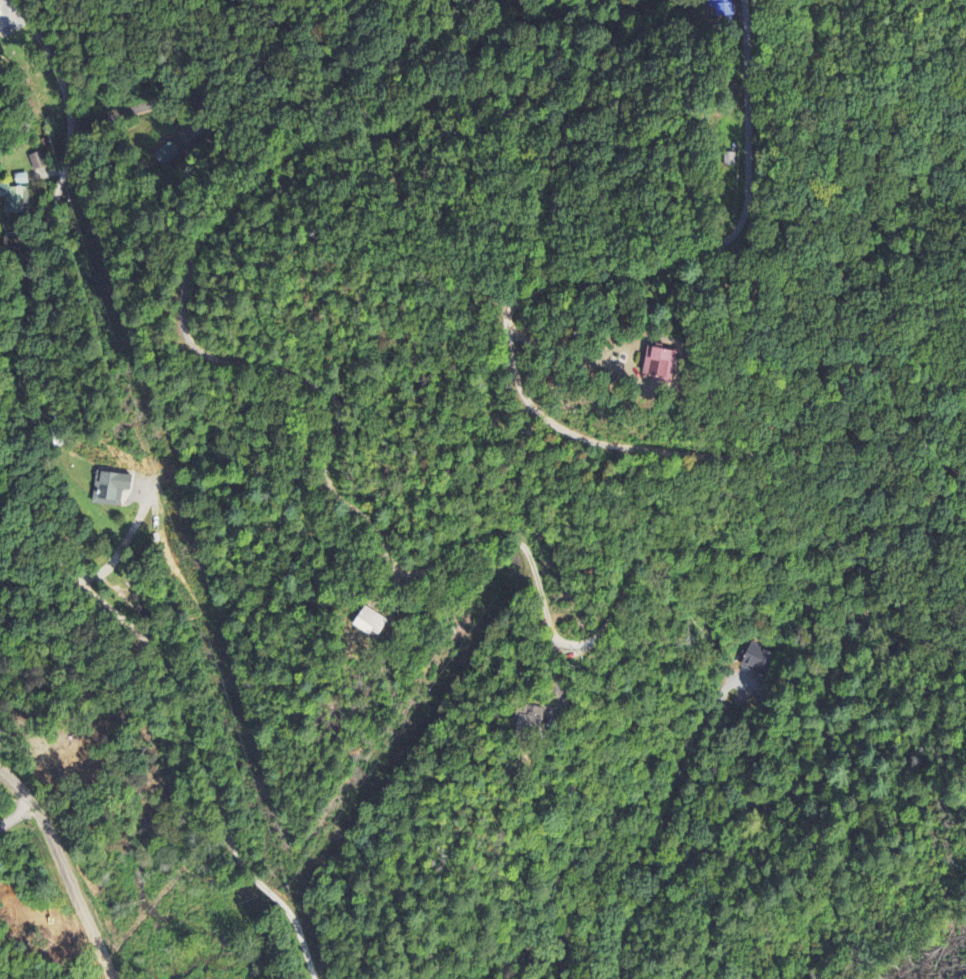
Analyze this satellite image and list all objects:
building: (720, 9)
building: (20, 181)
road: (672, 264)
building: (659, 367)
road: (794, 423)
building: (110, 490)
road: (34, 523)
road: (462, 546)
building: (370, 623)
building: (757, 658)
road: (64, 870)

